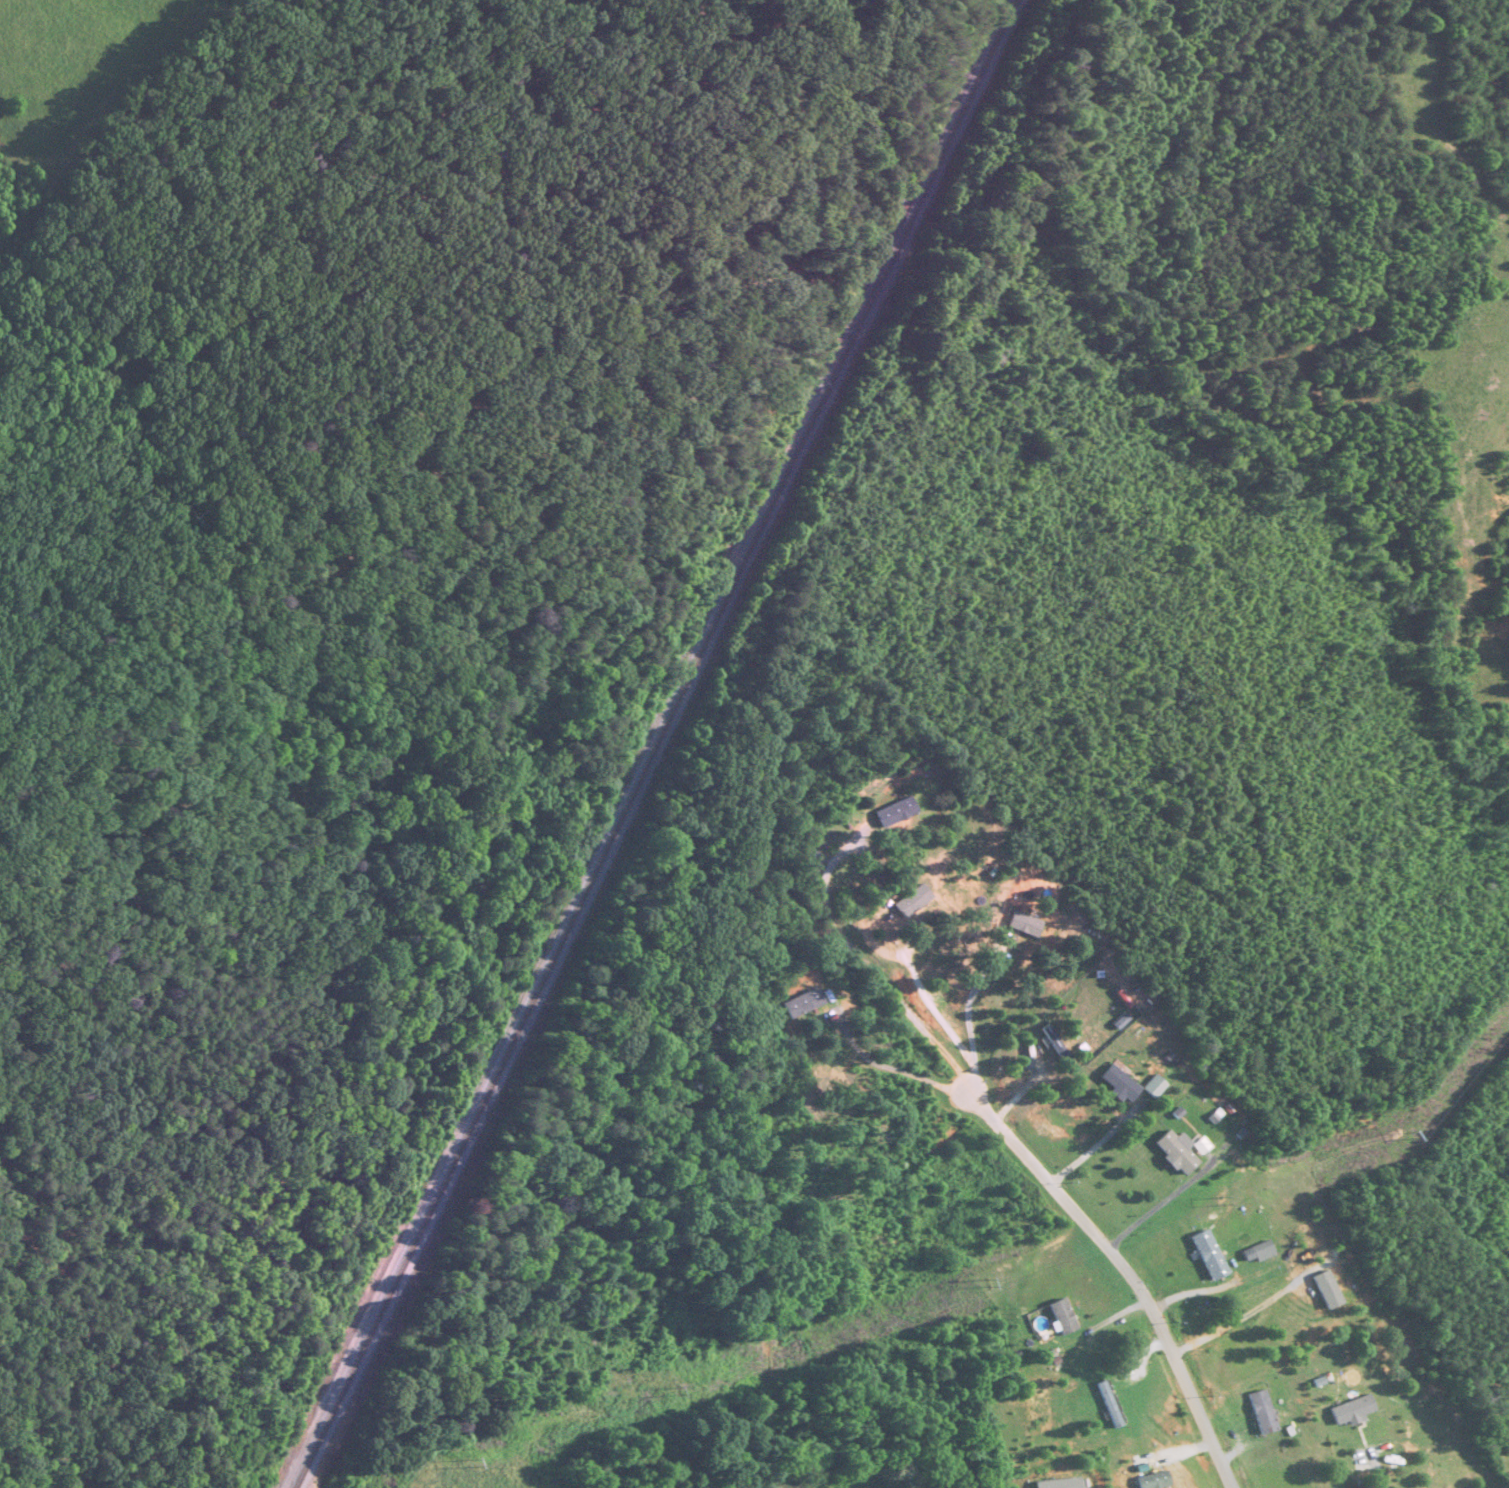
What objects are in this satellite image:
railway: (926, 168)
railway: (657, 744)
building: (895, 812)
road: (866, 970)
building: (802, 1003)
road: (969, 1023)
road: (893, 1069)
building: (1119, 1084)
road: (1019, 1090)
road: (1094, 1144)
building: (1175, 1152)
road: (1154, 1208)
building: (1257, 1252)
building: (1208, 1255)
road: (1128, 1273)
road: (1238, 1313)
building: (1062, 1317)
building: (1108, 1405)
building: (1351, 1410)
building: (1262, 1412)
road: (1364, 1461)
building: (1152, 1481)

